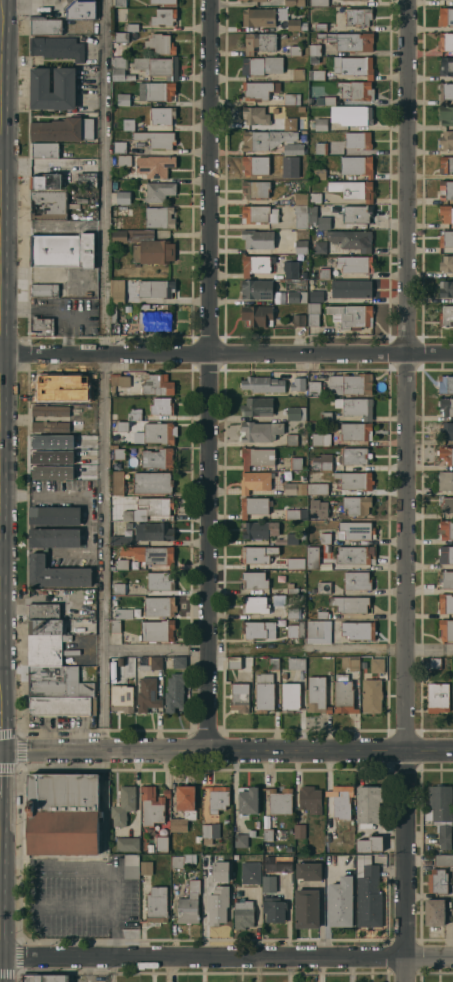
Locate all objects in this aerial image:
building: (60, 0)
building: (254, 0)
building: (359, 0)
building: (161, 1)
building: (319, 2)
building: (119, 3)
building: (295, 3)
building: (80, 9)
building: (282, 13)
building: (121, 14)
building: (163, 16)
building: (358, 16)
building: (259, 17)
building: (445, 17)
building: (293, 24)
building: (45, 25)
building: (321, 26)
building: (132, 27)
building: (121, 37)
building: (349, 40)
building: (446, 41)
building: (259, 42)
building: (160, 44)
building: (57, 47)
building: (315, 49)
building: (295, 50)
building: (262, 65)
building: (157, 66)
building: (353, 66)
building: (446, 66)
building: (120, 68)
building: (298, 73)
road: (0, 75)
building: (319, 75)
building: (64, 80)
building: (159, 90)
building: (258, 90)
building: (356, 92)
building: (447, 93)
building: (123, 99)
building: (292, 99)
building: (321, 99)
building: (162, 115)
building: (255, 115)
building: (352, 115)
building: (446, 115)
building: (321, 123)
building: (128, 124)
building: (289, 124)
building: (62, 129)
building: (266, 138)
building: (156, 139)
building: (358, 140)
building: (447, 140)
building: (118, 147)
building: (293, 148)
building: (320, 148)
building: (44, 150)
building: (123, 160)
building: (255, 164)
building: (446, 164)
building: (154, 165)
building: (357, 166)
building: (290, 173)
building: (319, 173)
building: (45, 181)
building: (256, 189)
building: (353, 189)
building: (445, 189)
building: (158, 191)
building: (122, 197)
building: (301, 197)
building: (315, 197)
building: (48, 204)
building: (357, 213)
building: (446, 213)
building: (259, 214)
building: (312, 215)
building: (301, 216)
building: (159, 217)
building: (323, 222)
building: (257, 238)
building: (446, 238)
building: (352, 239)
building: (145, 245)
building: (300, 246)
building: (320, 246)
building: (331, 249)
building: (62, 250)
building: (355, 263)
building: (446, 263)
building: (255, 264)
building: (295, 272)
building: (323, 272)
building: (156, 288)
building: (351, 288)
building: (446, 288)
building: (43, 289)
building: (257, 289)
building: (116, 291)
building: (297, 296)
building: (316, 296)
building: (313, 314)
building: (258, 315)
building: (351, 315)
building: (446, 315)
building: (114, 318)
building: (299, 320)
building: (155, 321)
building: (42, 325)
road: (226, 351)
road: (211, 374)
road: (105, 375)
building: (119, 380)
building: (39, 381)
building: (297, 383)
building: (445, 383)
building: (157, 384)
building: (262, 384)
building: (350, 384)
building: (314, 387)
building: (161, 405)
building: (257, 406)
building: (355, 406)
building: (446, 406)
building: (50, 410)
building: (296, 413)
building: (134, 414)
building: (325, 416)
building: (49, 426)
building: (122, 426)
building: (260, 431)
building: (355, 431)
building: (446, 431)
building: (156, 433)
building: (291, 439)
building: (320, 439)
building: (50, 445)
building: (118, 453)
building: (446, 454)
building: (355, 456)
building: (256, 457)
building: (157, 458)
building: (296, 463)
building: (321, 465)
building: (354, 480)
building: (446, 480)
building: (254, 481)
building: (152, 482)
building: (91, 483)
building: (117, 483)
building: (289, 488)
building: (317, 488)
road: (406, 491)
building: (356, 505)
building: (446, 505)
building: (155, 506)
building: (254, 506)
building: (315, 513)
building: (291, 514)
building: (55, 515)
building: (127, 515)
building: (128, 525)
building: (259, 529)
building: (446, 529)
building: (355, 530)
building: (154, 531)
building: (302, 535)
building: (325, 538)
building: (288, 539)
building: (126, 540)
building: (150, 554)
building: (258, 554)
building: (355, 554)
building: (446, 554)
building: (312, 557)
building: (37, 560)
building: (295, 563)
building: (120, 564)
building: (446, 579)
building: (160, 580)
building: (253, 580)
building: (357, 581)
building: (323, 587)
building: (118, 588)
building: (292, 590)
building: (446, 603)
building: (254, 604)
building: (349, 604)
building: (159, 606)
building: (43, 611)
building: (292, 612)
building: (120, 614)
building: (321, 614)
building: (115, 625)
building: (44, 626)
building: (258, 629)
building: (446, 629)
building: (296, 630)
building: (358, 630)
building: (156, 631)
building: (319, 631)
building: (45, 648)
road: (278, 648)
building: (118, 661)
building: (150, 662)
building: (179, 662)
building: (234, 662)
building: (350, 662)
building: (273, 663)
building: (296, 663)
building: (435, 663)
building: (377, 665)
building: (47, 673)
building: (283, 675)
building: (59, 688)
building: (174, 691)
building: (264, 692)
building: (147, 694)
building: (317, 695)
building: (343, 695)
building: (371, 695)
building: (239, 697)
building: (289, 697)
building: (438, 697)
building: (121, 698)
building: (62, 705)
road: (226, 750)
building: (217, 798)
building: (310, 799)
building: (248, 801)
building: (280, 801)
building: (341, 801)
building: (123, 805)
building: (152, 805)
building: (368, 805)
building: (183, 808)
building: (441, 812)
building: (62, 814)
building: (225, 822)
building: (206, 830)
building: (299, 831)
building: (251, 833)
building: (268, 834)
building: (333, 837)
building: (197, 839)
building: (240, 840)
building: (207, 841)
building: (127, 844)
building: (162, 844)
building: (369, 844)
building: (150, 848)
building: (288, 849)
building: (182, 860)
building: (442, 860)
building: (282, 864)
building: (131, 866)
road: (101, 868)
building: (146, 868)
building: (219, 871)
building: (308, 871)
building: (250, 873)
building: (437, 881)
building: (268, 884)
building: (206, 887)
building: (367, 893)
building: (340, 902)
building: (157, 904)
building: (189, 904)
building: (274, 909)
building: (307, 909)
building: (216, 910)
building: (435, 911)
building: (243, 914)
road: (226, 957)
building: (45, 978)

